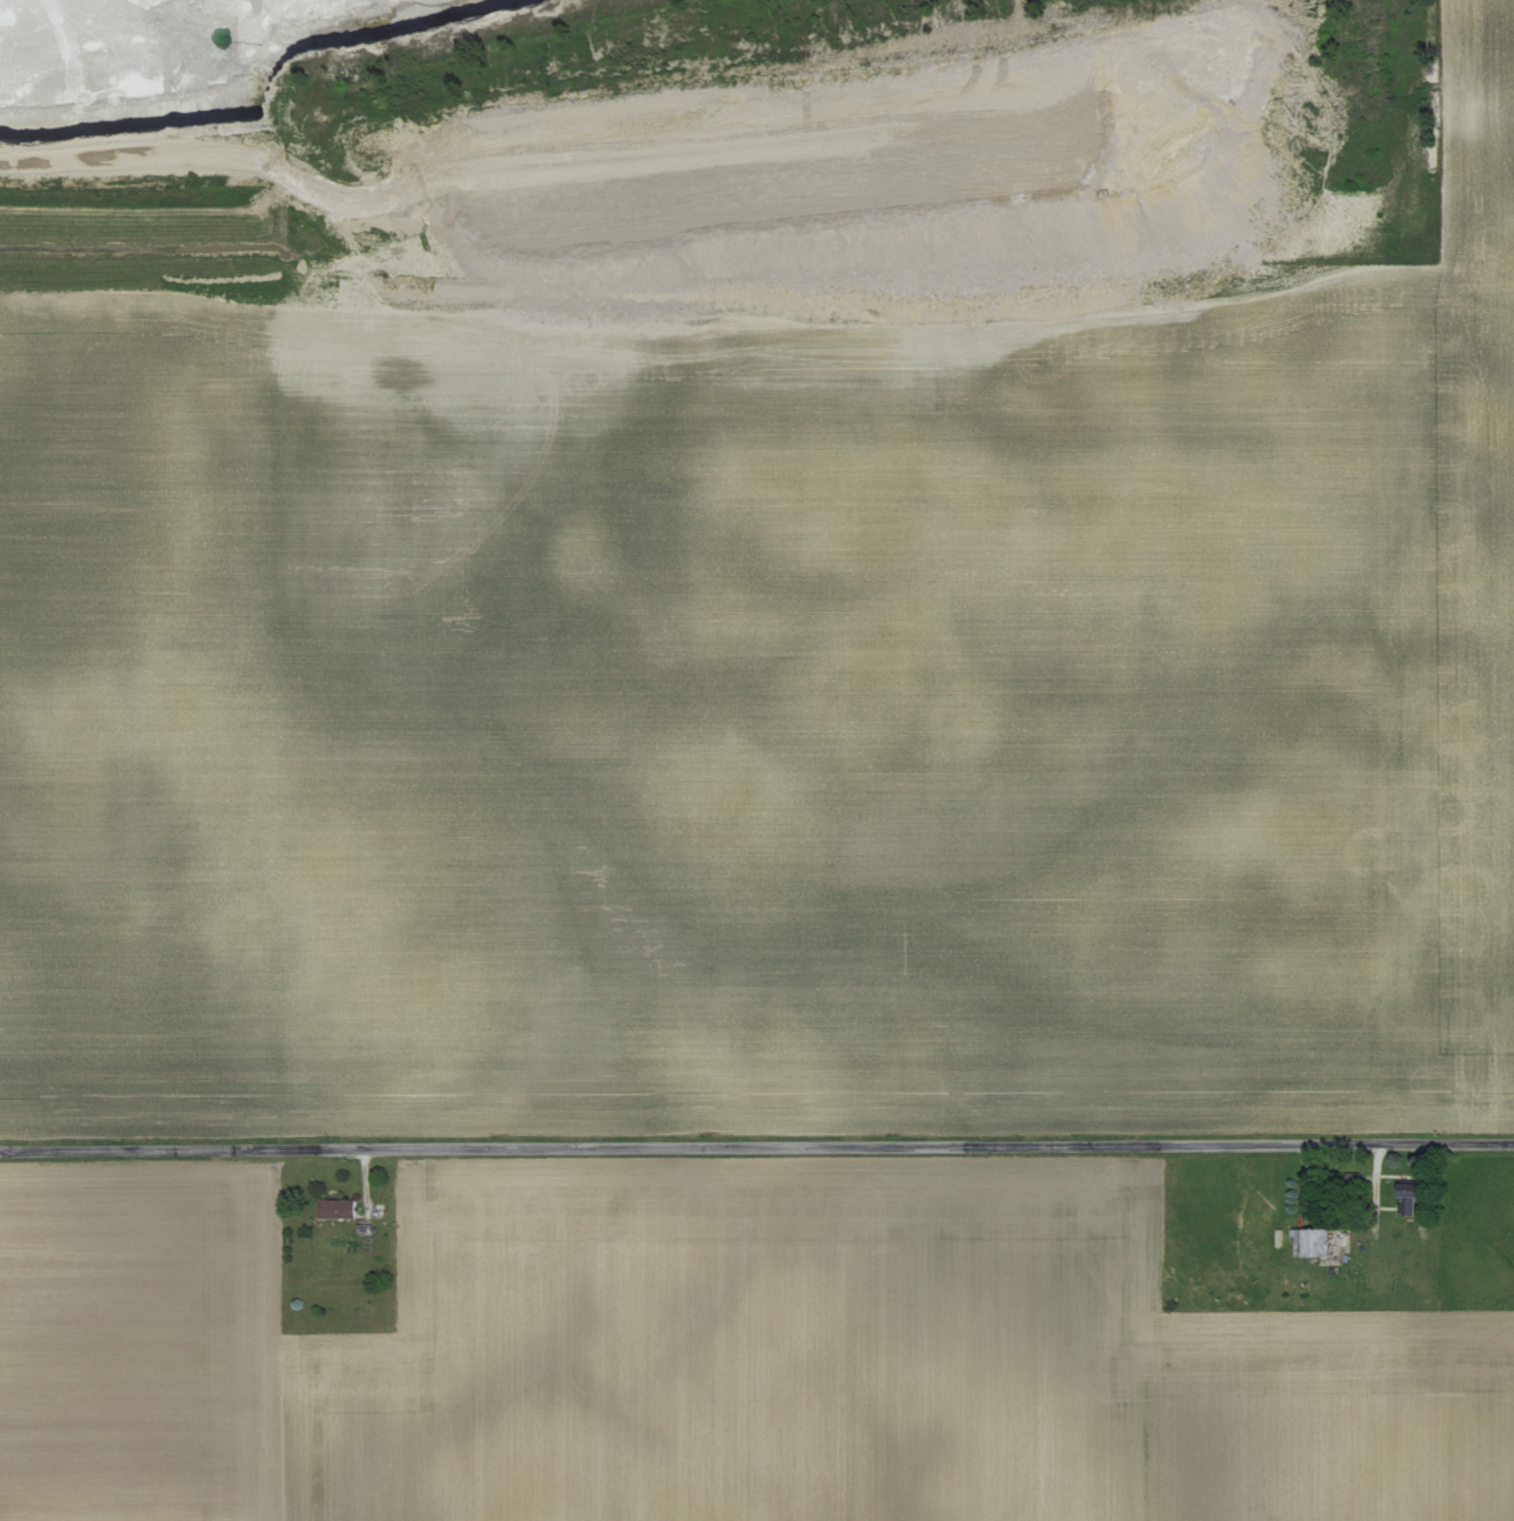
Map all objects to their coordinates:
quarry: (714, 135)
road: (757, 1151)
building: (336, 1208)

